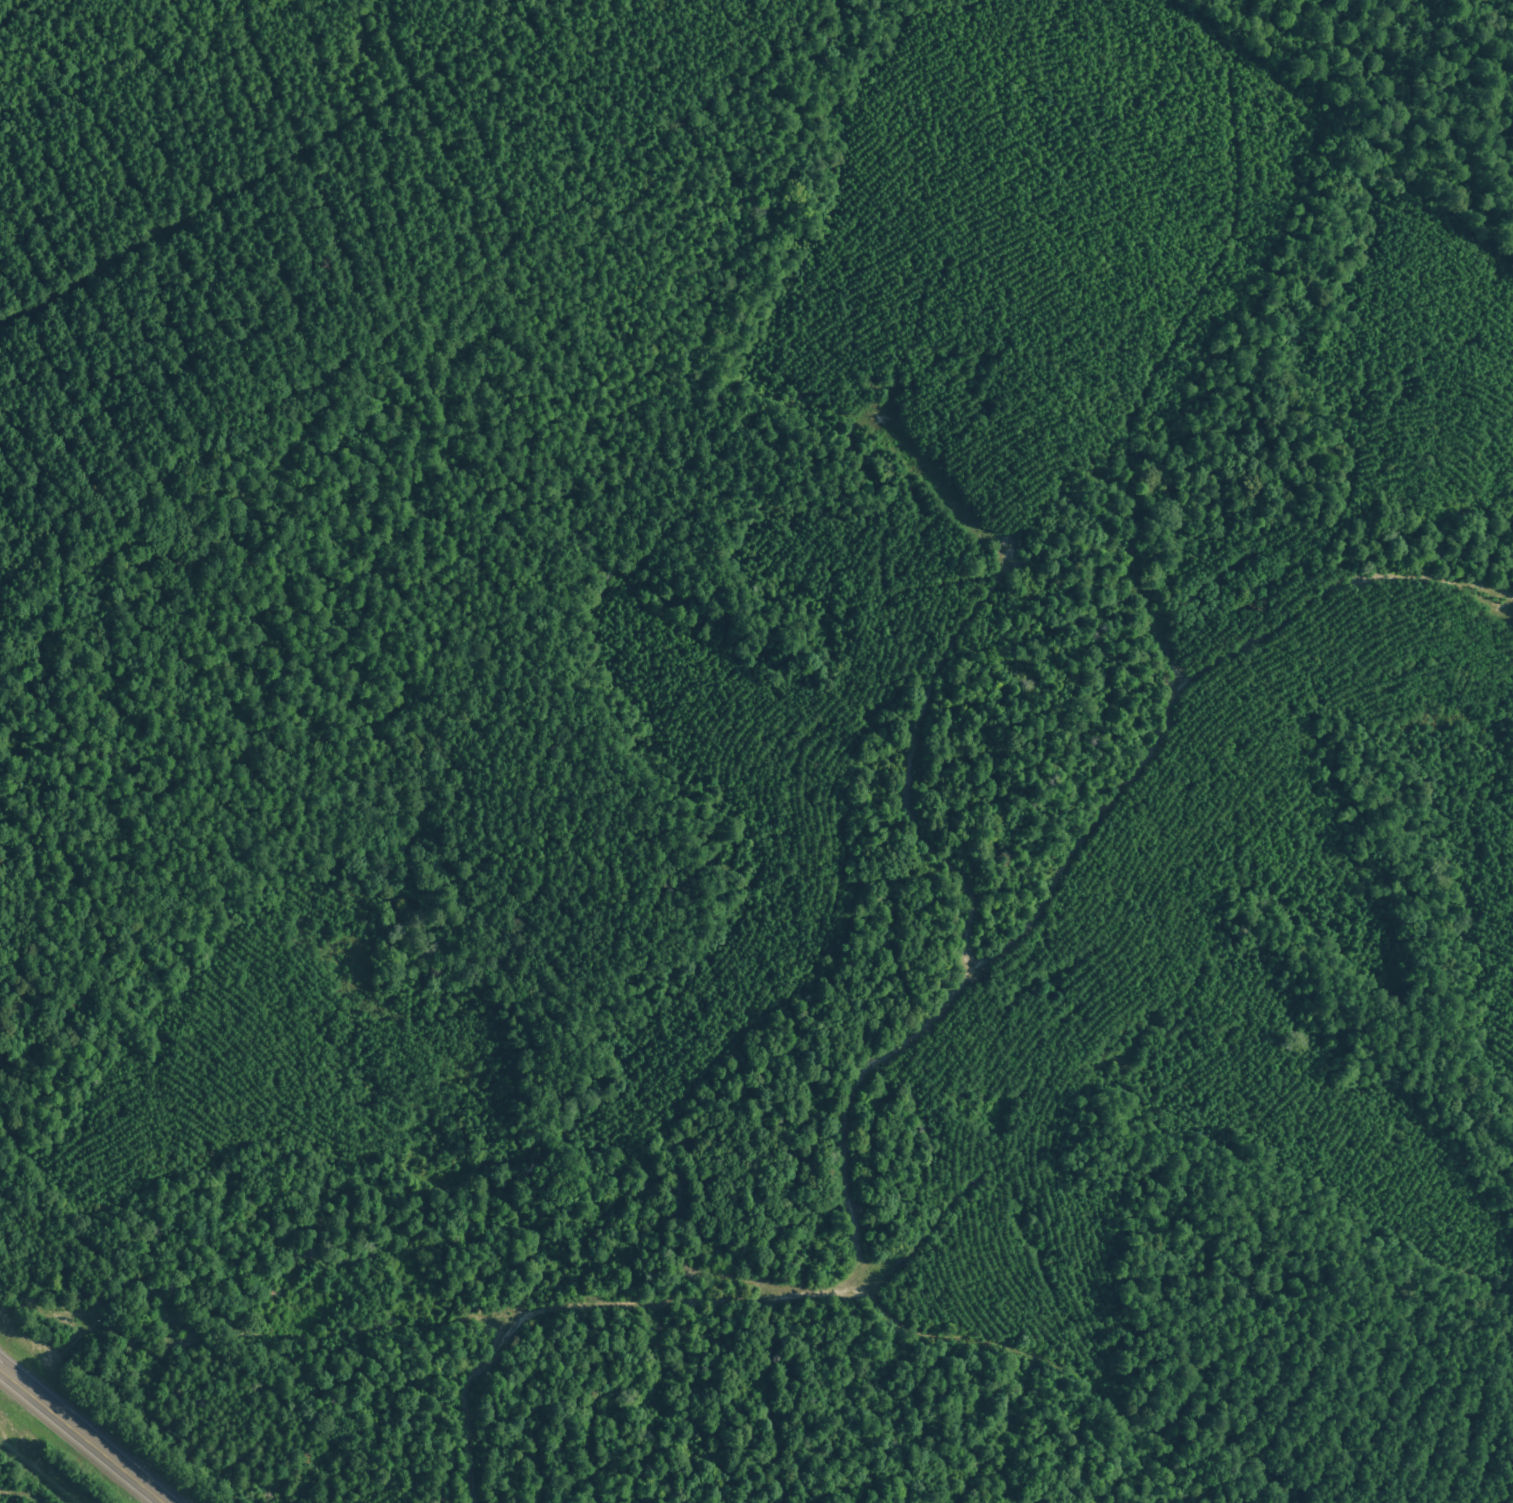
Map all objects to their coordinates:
road: (86, 1433)

